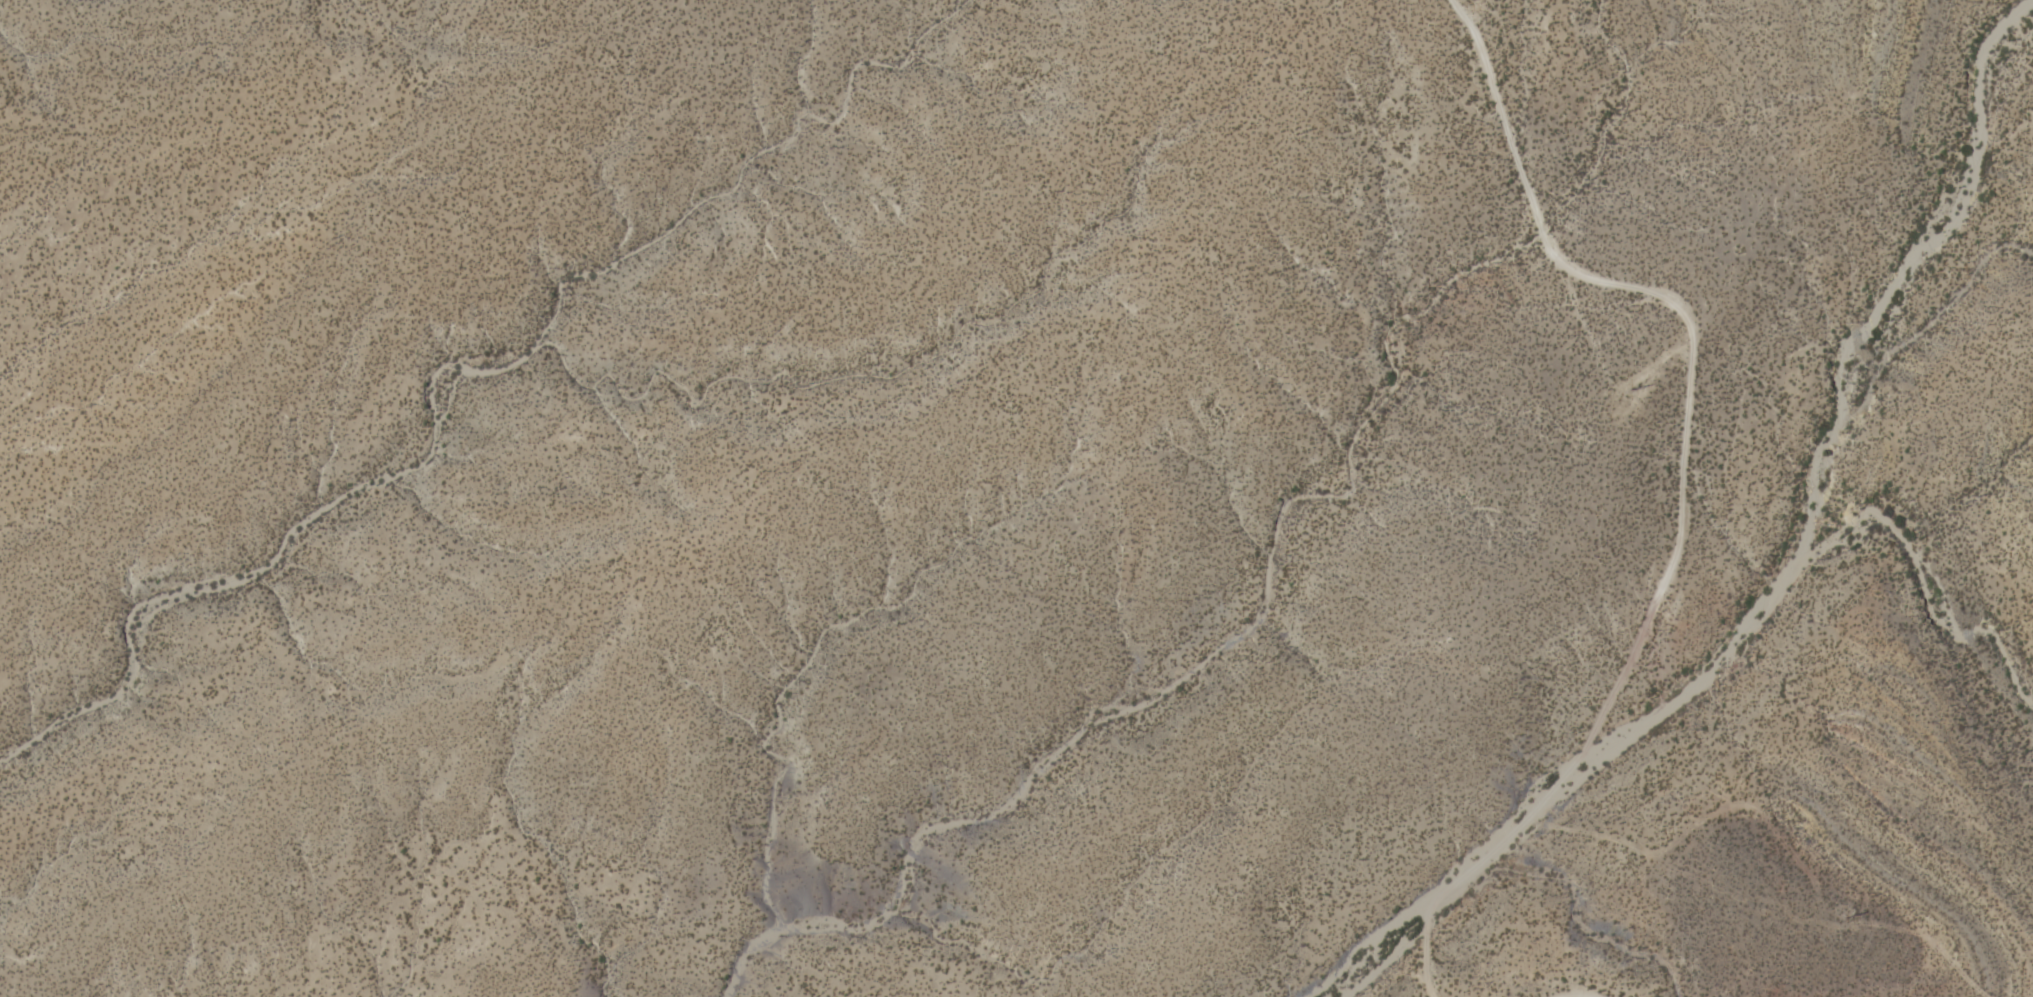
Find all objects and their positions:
road: (1688, 336)
power tower: (1633, 391)
road: (1506, 835)
power tower: (1848, 918)
road: (1424, 954)
road: (1582, 995)

